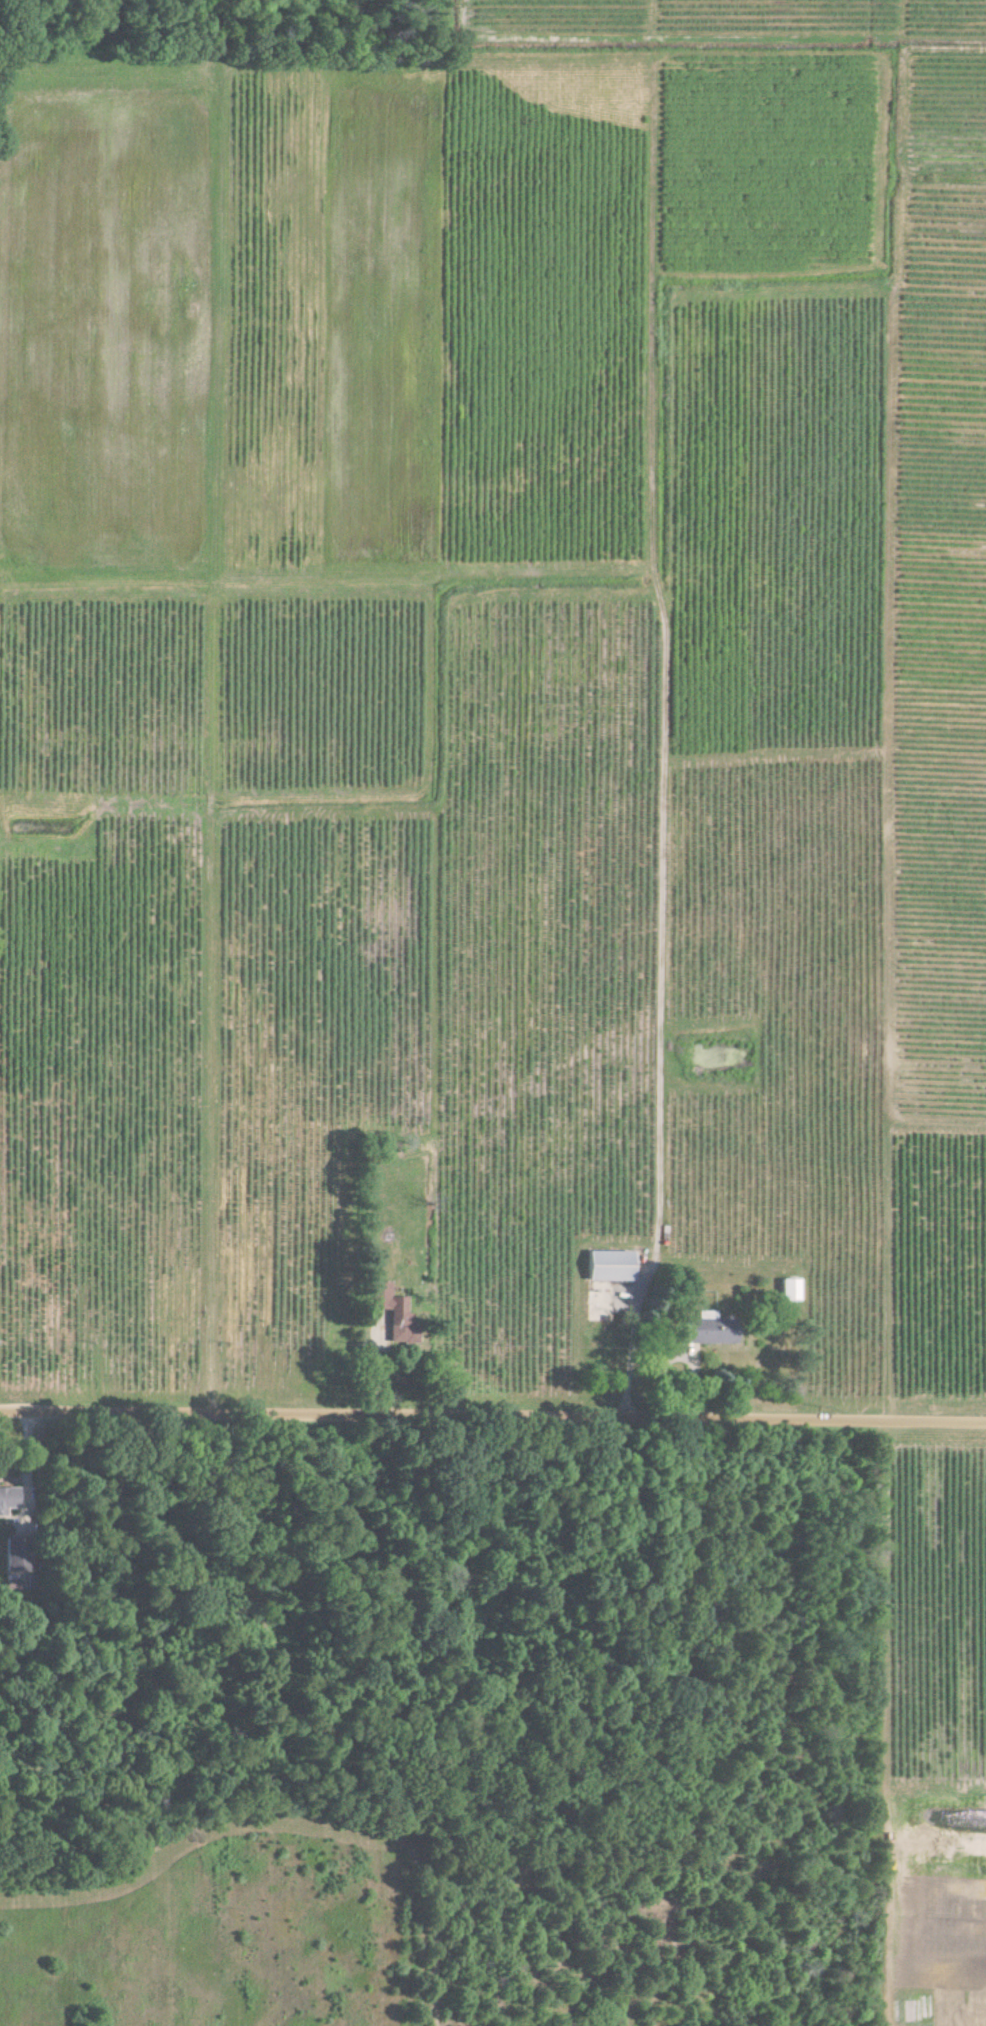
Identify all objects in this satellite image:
building: (606, 1266)
building: (786, 1289)
building: (391, 1313)
building: (706, 1329)
road: (492, 1419)
building: (8, 1498)
building: (13, 1567)

